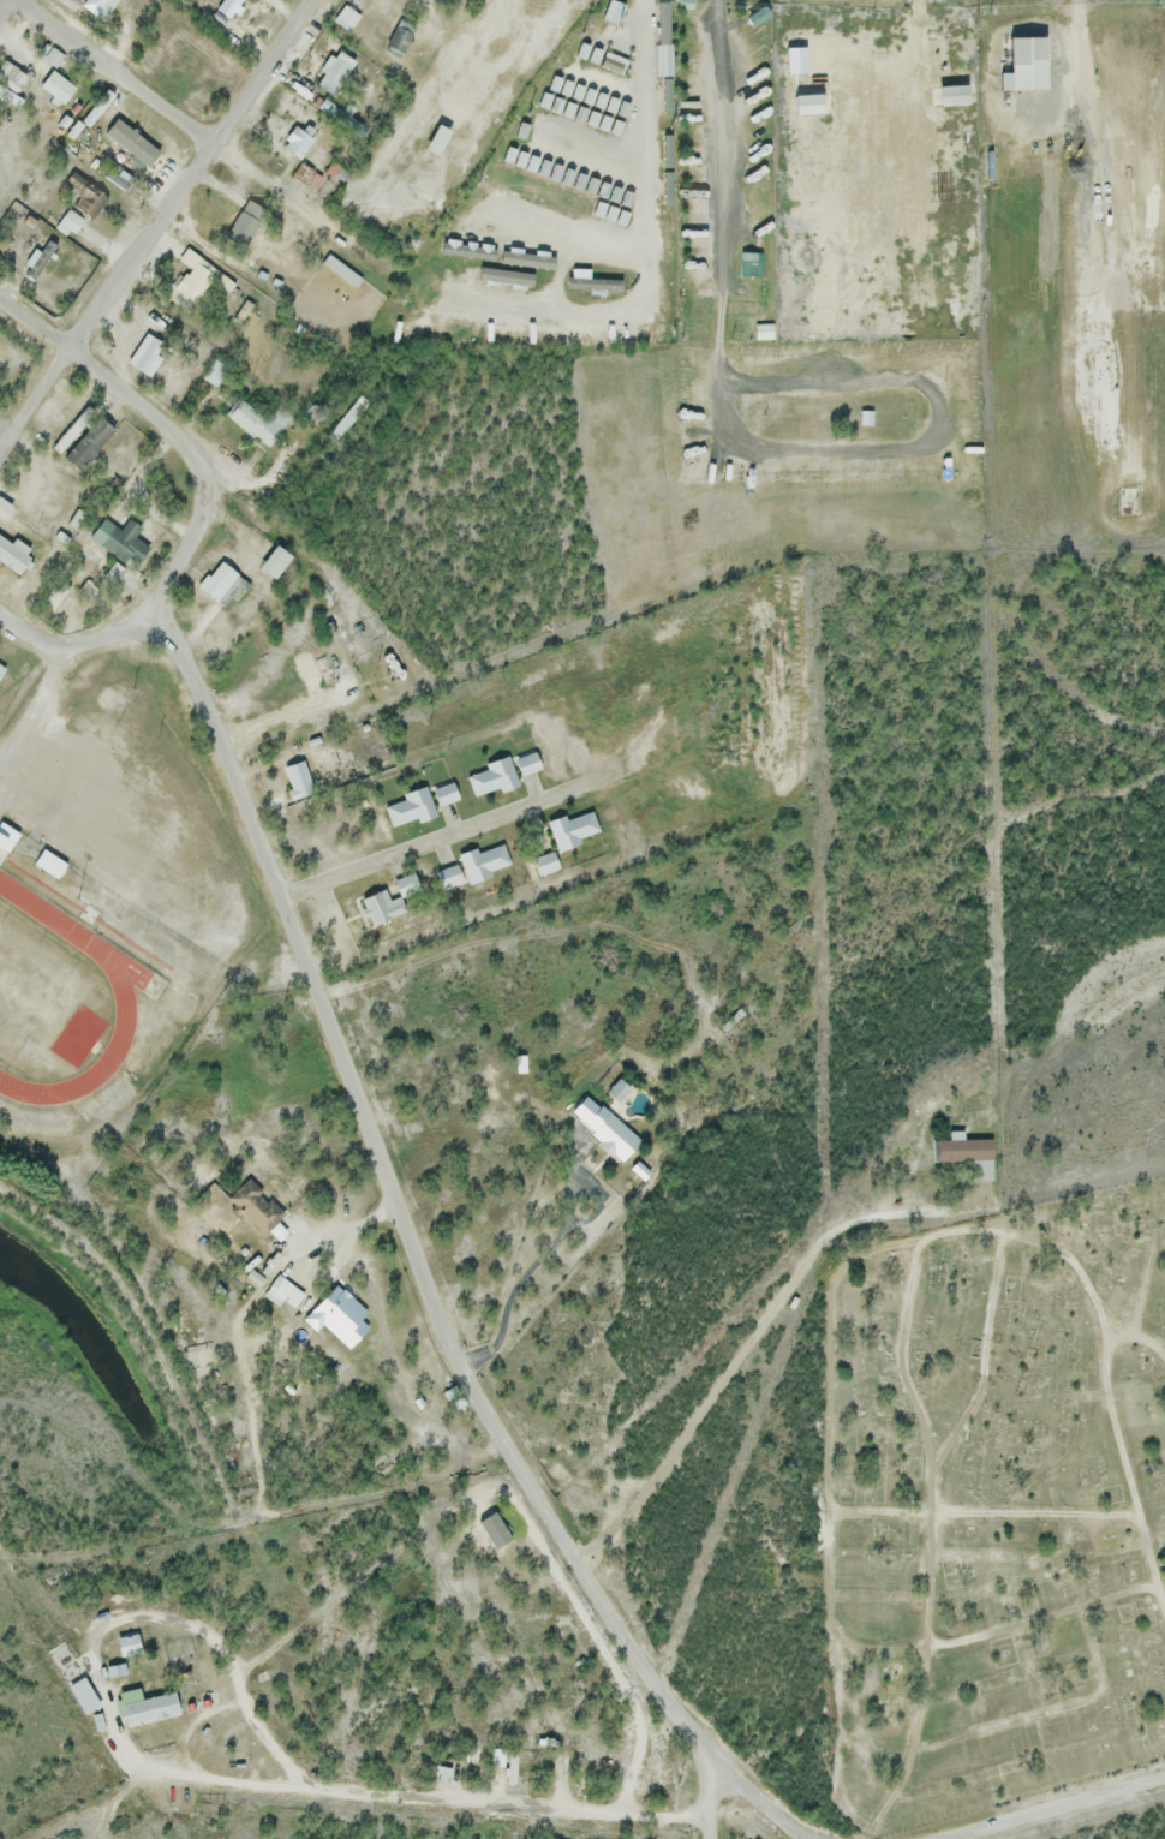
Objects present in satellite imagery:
building: (101, 6)
building: (229, 6)
road: (6, 7)
building: (347, 16)
building: (402, 35)
building: (55, 55)
building: (795, 60)
building: (1028, 64)
building: (13, 71)
building: (339, 71)
building: (58, 86)
building: (955, 94)
building: (7, 96)
building: (97, 106)
building: (803, 106)
building: (346, 119)
road: (189, 126)
building: (438, 138)
road: (719, 139)
building: (132, 141)
building: (301, 142)
road: (646, 155)
building: (113, 174)
building: (85, 193)
building: (246, 221)
building: (68, 222)
road: (156, 228)
building: (468, 250)
building: (528, 258)
building: (41, 259)
building: (342, 269)
building: (507, 275)
building: (197, 280)
building: (596, 283)
building: (149, 353)
building: (217, 371)
building: (352, 417)
building: (262, 422)
building: (73, 428)
road: (168, 432)
building: (89, 442)
building: (6, 508)
building: (121, 541)
building: (14, 553)
building: (276, 562)
building: (216, 578)
building: (331, 637)
road: (77, 649)
building: (2, 670)
road: (35, 712)
building: (530, 763)
building: (492, 775)
building: (298, 778)
building: (447, 793)
building: (413, 807)
building: (574, 828)
road: (438, 834)
building: (10, 836)
building: (440, 859)
building: (485, 861)
building: (52, 862)
building: (546, 862)
building: (450, 876)
building: (407, 883)
building: (382, 907)
park: (30, 989)
track: (55, 1004)
stadium: (88, 1011)
building: (605, 1133)
building: (966, 1150)
building: (256, 1206)
road: (417, 1267)
building: (285, 1291)
building: (340, 1316)
road: (751, 1339)
park: (993, 1510)
building: (496, 1529)
building: (130, 1644)
building: (115, 1670)
building: (84, 1696)
building: (148, 1707)
building: (100, 1721)
building: (500, 1756)
building: (513, 1766)
building: (442, 1769)
road: (364, 1792)
road: (706, 1796)
road: (1050, 1805)

